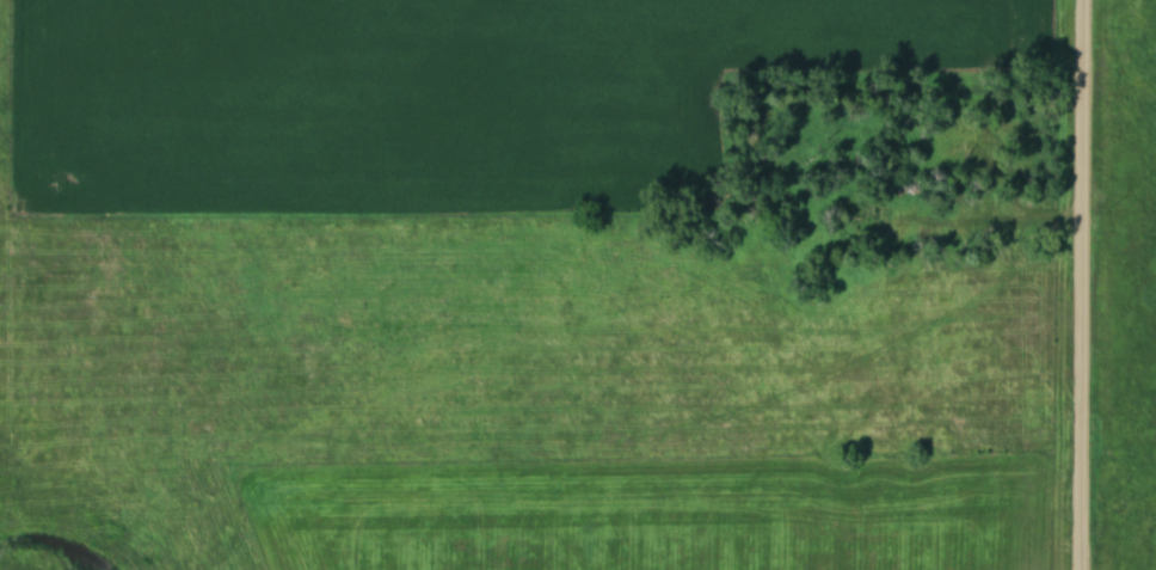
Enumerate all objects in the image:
road: (1080, 284)

